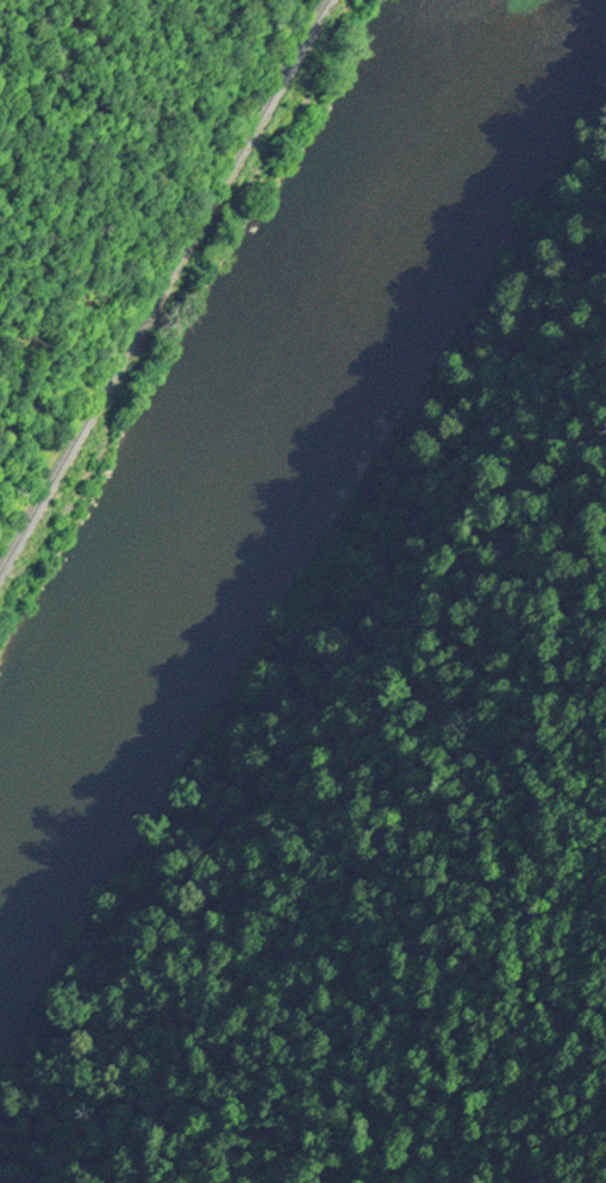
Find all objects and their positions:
railway: (160, 280)
river: (260, 446)

